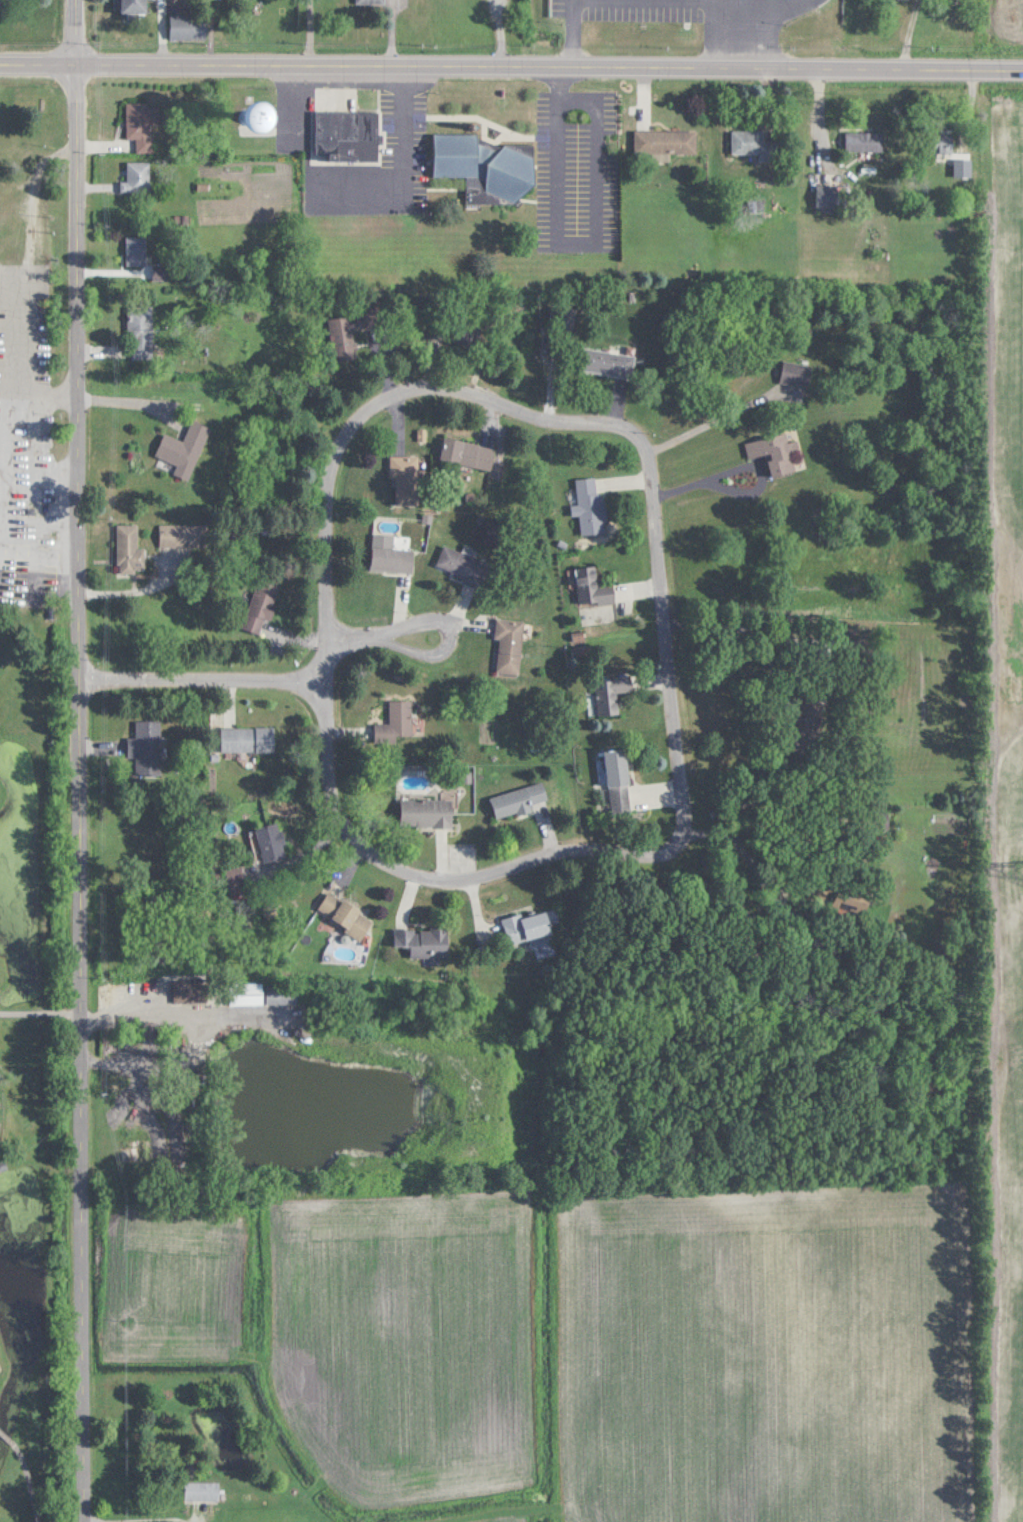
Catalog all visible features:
road: (702, 1)
road: (745, 2)
building: (135, 6)
building: (190, 26)
road: (312, 31)
road: (77, 32)
road: (575, 32)
road: (511, 64)
water tower: (247, 119)
building: (258, 120)
building: (143, 125)
building: (349, 135)
building: (667, 141)
building: (866, 141)
building: (945, 143)
building: (754, 144)
building: (487, 167)
building: (138, 178)
road: (358, 193)
building: (828, 197)
road: (579, 241)
building: (138, 256)
building: (162, 272)
building: (564, 319)
building: (141, 332)
building: (346, 334)
building: (608, 362)
building: (798, 374)
road: (370, 411)
road: (7, 443)
building: (184, 447)
building: (780, 453)
building: (469, 454)
road: (747, 466)
building: (406, 479)
parking lot: (9, 485)
building: (592, 507)
building: (131, 550)
building: (394, 558)
building: (465, 565)
building: (594, 587)
building: (262, 605)
road: (669, 638)
road: (380, 639)
building: (511, 646)
road: (809, 661)
road: (205, 682)
building: (609, 697)
building: (402, 718)
building: (807, 723)
building: (249, 738)
building: (149, 746)
building: (620, 779)
road: (82, 792)
building: (521, 798)
park: (33, 809)
building: (427, 811)
building: (269, 842)
road: (755, 861)
road: (442, 885)
building: (346, 915)
building: (528, 927)
building: (423, 941)
building: (191, 991)
building: (247, 994)
building: (282, 995)
road: (175, 1019)
building: (204, 1072)
building: (203, 1491)

